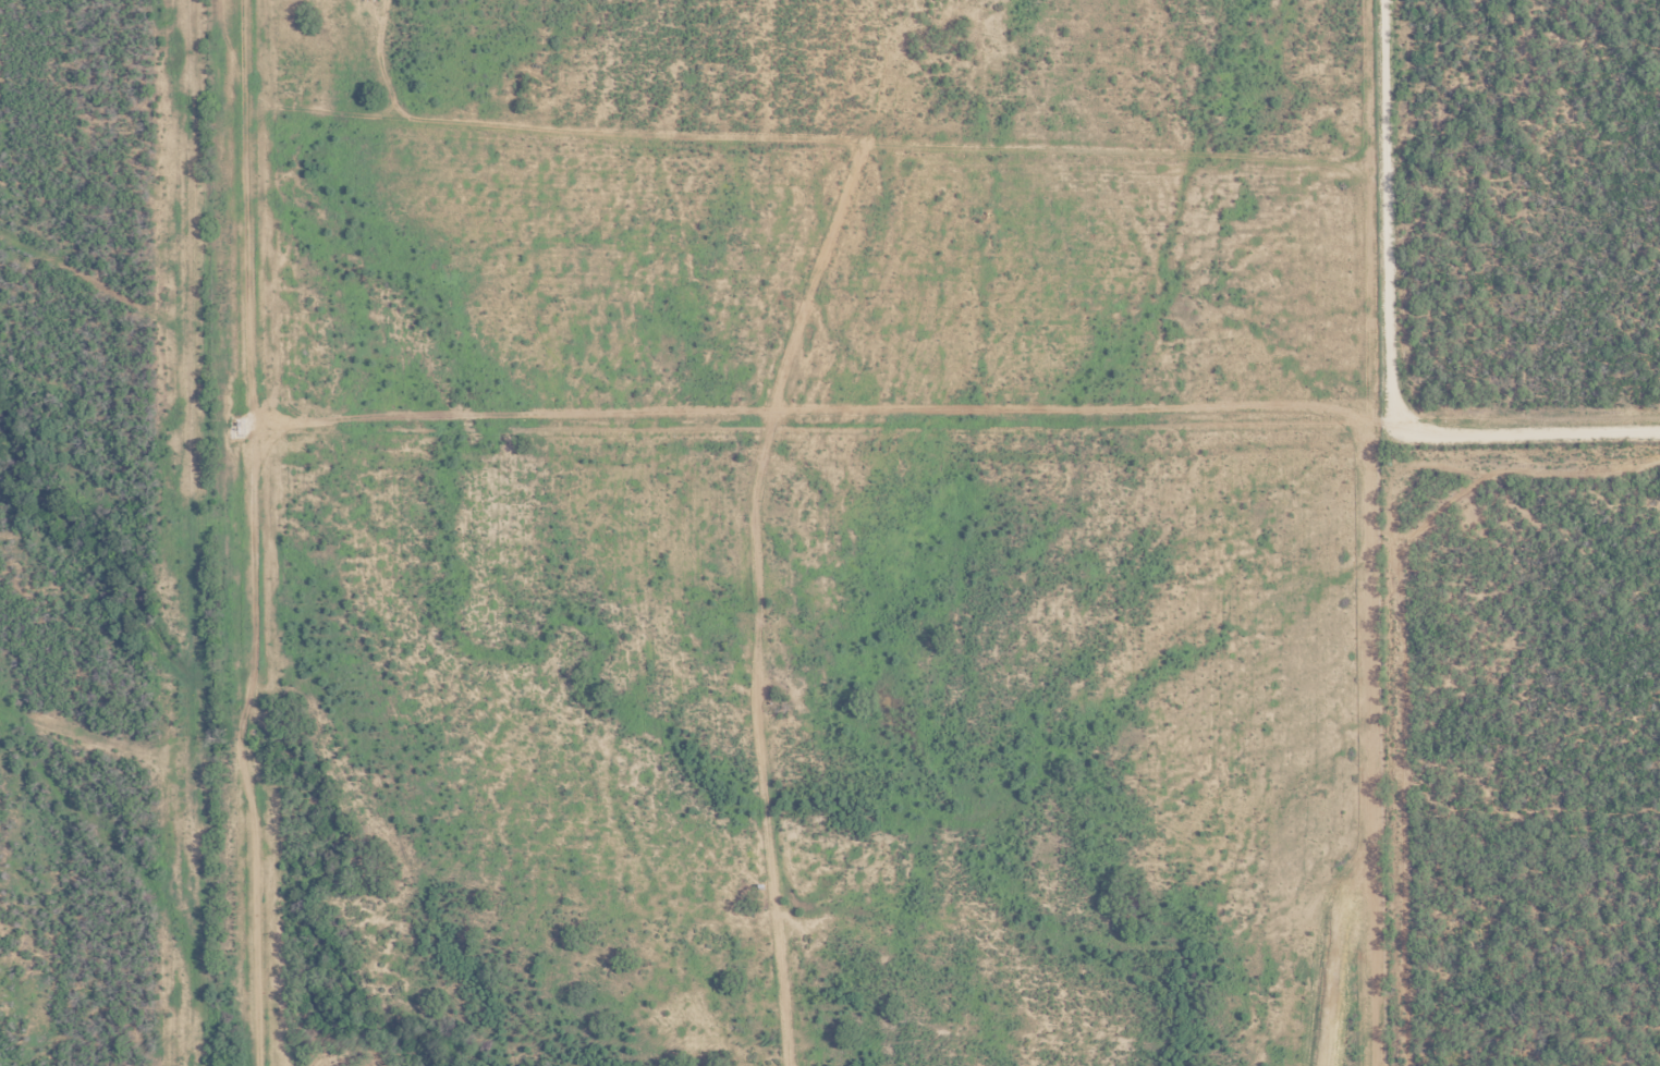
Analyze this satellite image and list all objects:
road: (1395, 344)

